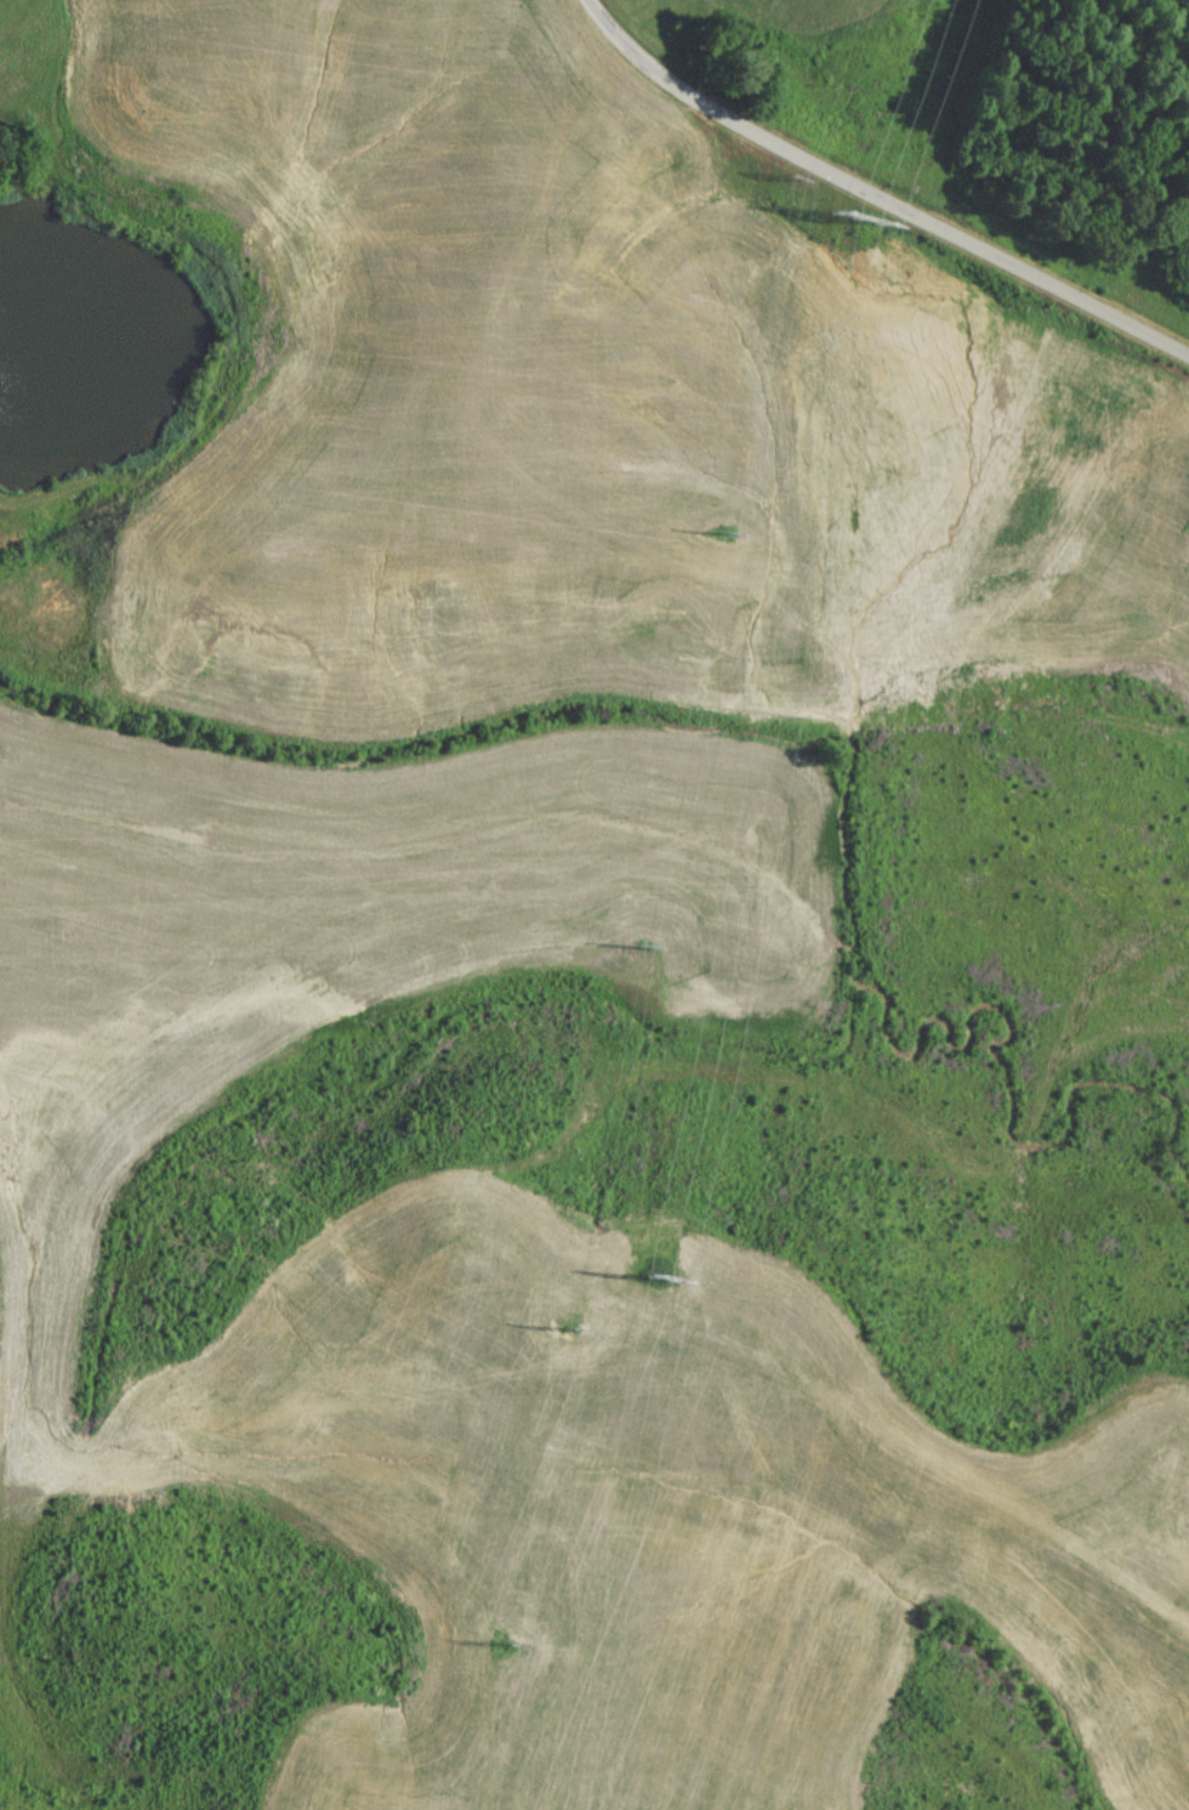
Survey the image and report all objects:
road: (880, 198)
power tower: (847, 225)
power tower: (656, 1286)

